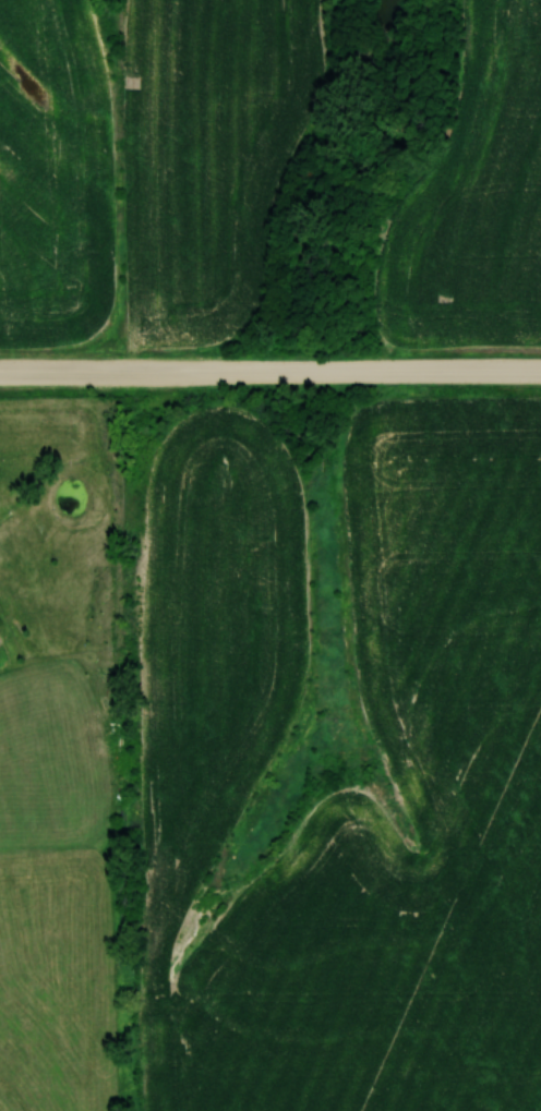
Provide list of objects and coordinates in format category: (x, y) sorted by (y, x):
road: (269, 381)

